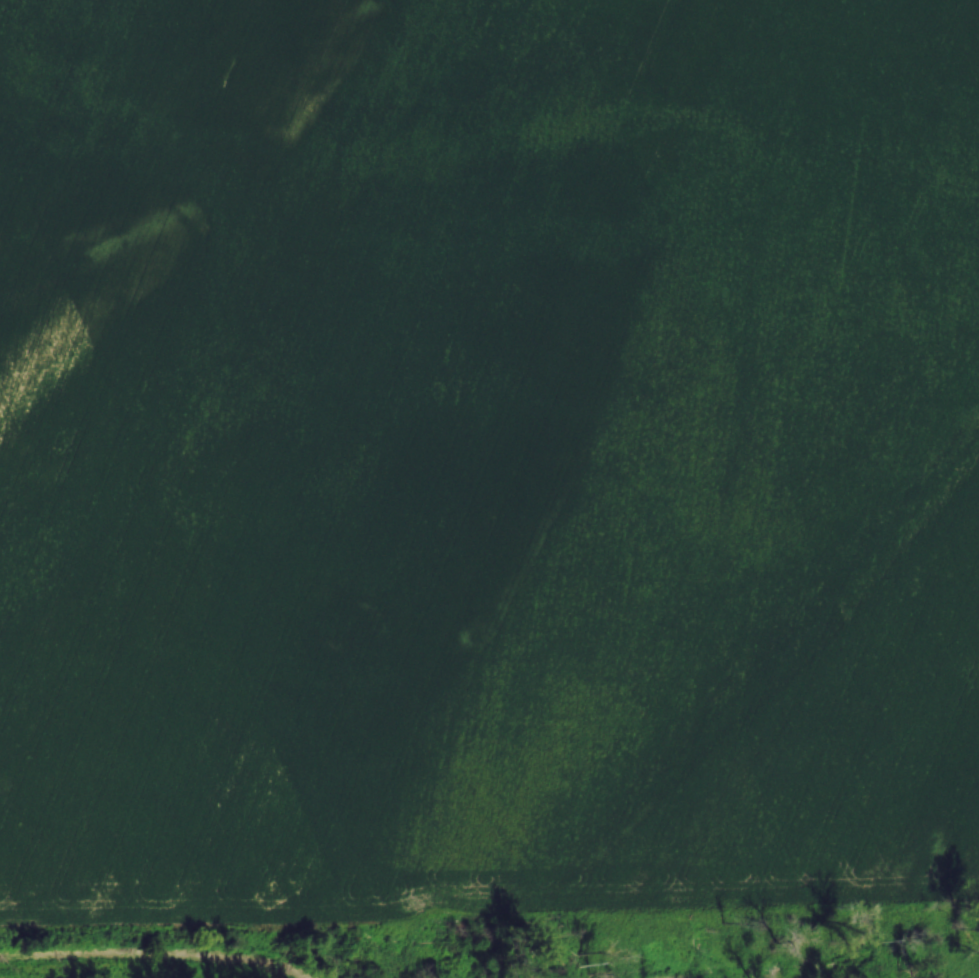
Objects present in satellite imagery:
park: (495, 961)

